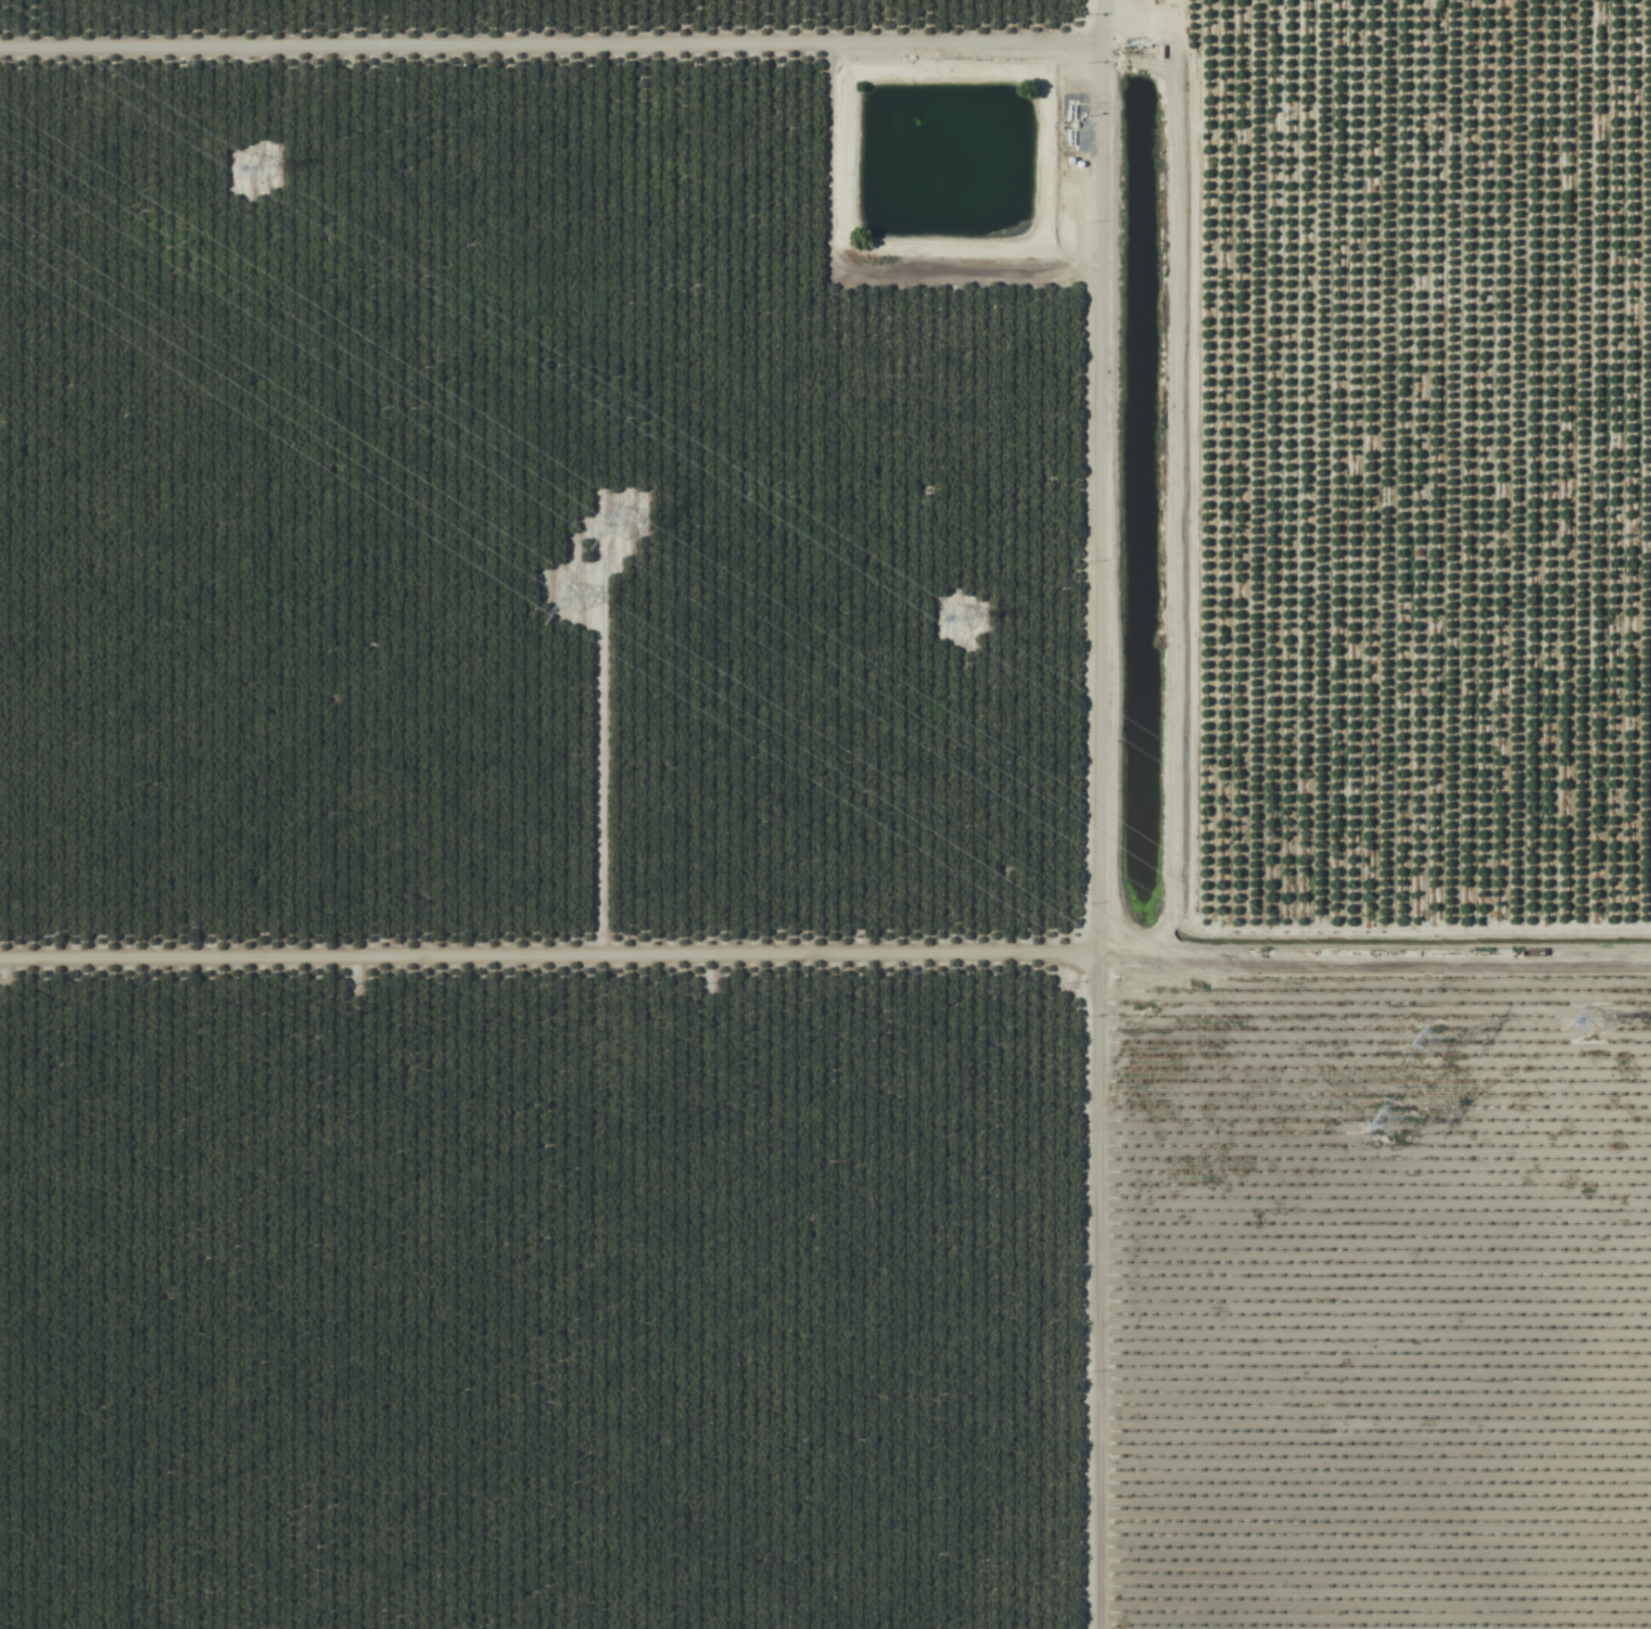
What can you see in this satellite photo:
power tower: (251, 171)
power tower: (633, 526)
power tower: (597, 597)
power tower: (955, 615)
crop: (825, 814)
road: (1125, 814)
road: (825, 994)
power tower: (1584, 1019)
power tower: (1440, 1052)
power tower: (1408, 1124)

